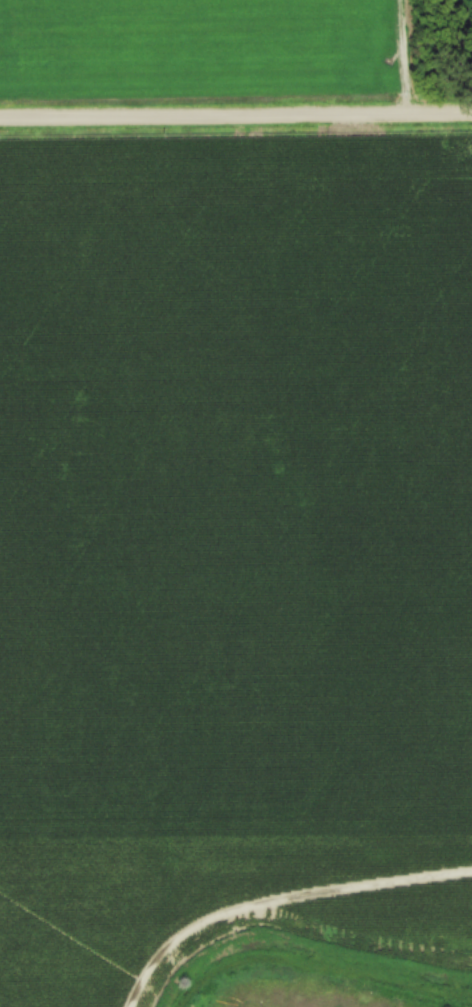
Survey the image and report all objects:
crop: (202, 42)
road: (236, 115)
crop: (233, 549)

